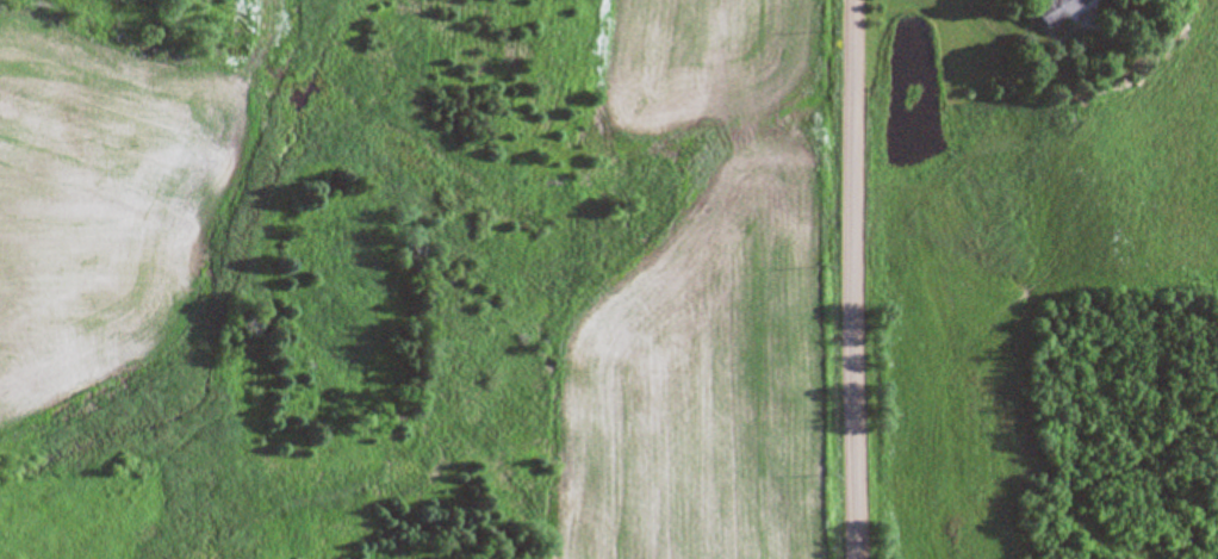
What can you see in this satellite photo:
building: (1050, 10)
road: (846, 279)

